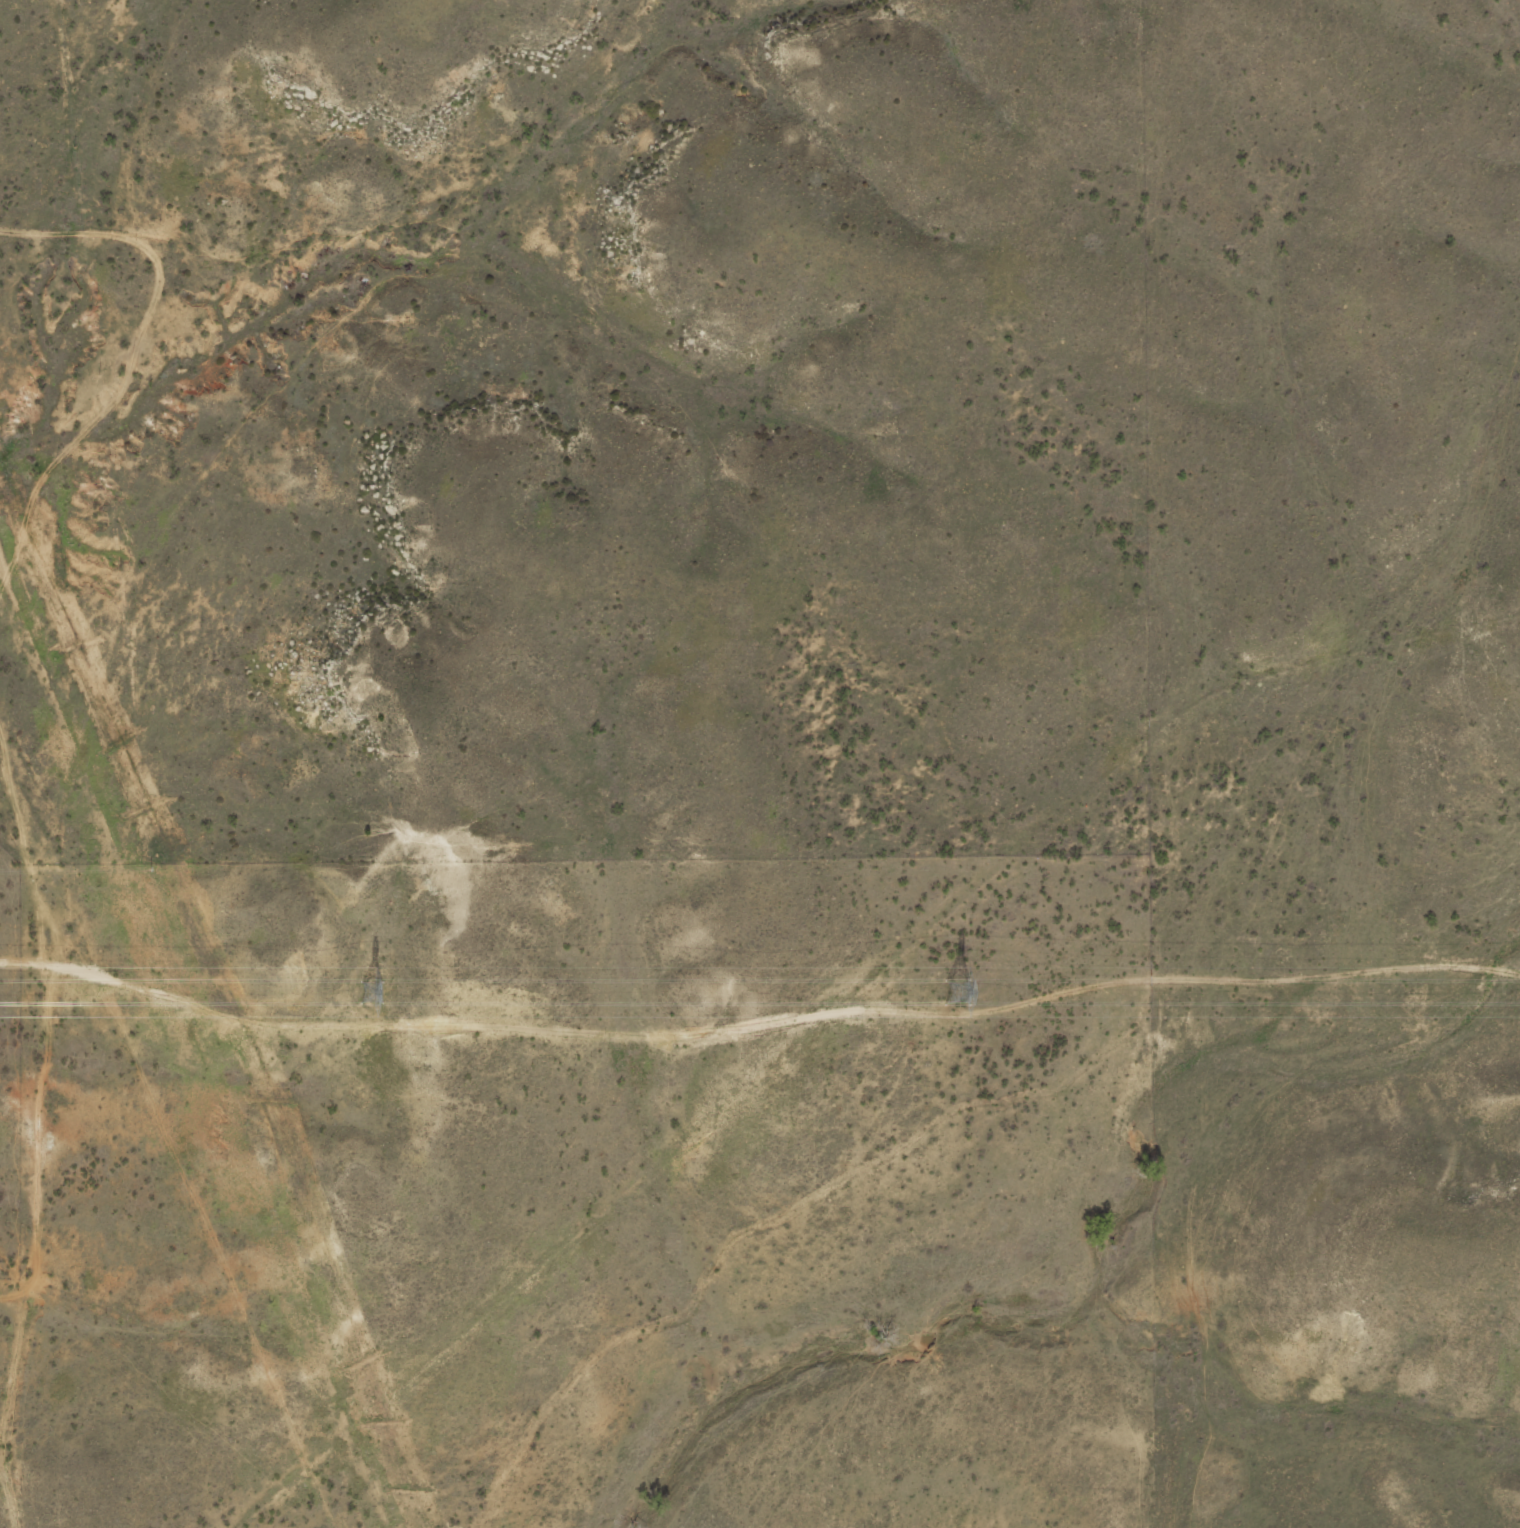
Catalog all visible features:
power tower: (374, 992)
power tower: (959, 993)
road: (5, 1095)
road: (1452, 1479)

